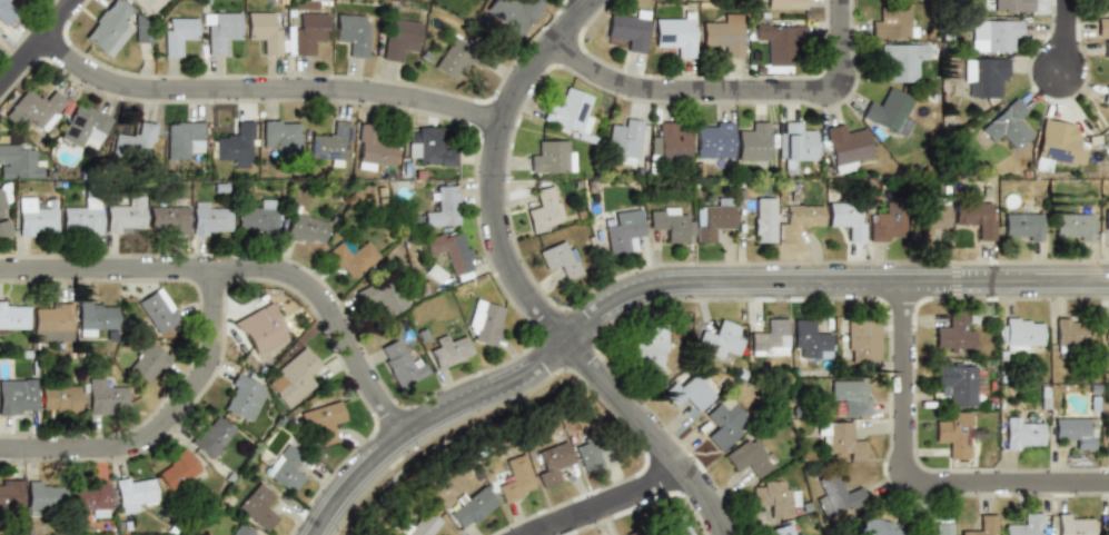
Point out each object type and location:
building: (882, 0)
building: (785, 4)
building: (148, 6)
building: (1011, 6)
building: (7, 11)
building: (512, 13)
building: (891, 23)
building: (1102, 23)
building: (109, 29)
building: (0, 31)
building: (628, 31)
building: (220, 32)
building: (310, 32)
building: (178, 33)
building: (264, 33)
building: (677, 34)
building: (725, 34)
building: (993, 34)
building: (353, 37)
building: (399, 39)
road: (1070, 39)
building: (779, 40)
road: (37, 42)
building: (1106, 51)
building: (452, 59)
building: (900, 60)
building: (982, 77)
road: (266, 92)
road: (739, 95)
building: (1106, 95)
building: (34, 109)
building: (889, 110)
building: (570, 112)
building: (83, 125)
building: (1006, 126)
building: (1108, 126)
building: (281, 135)
building: (180, 137)
building: (713, 138)
building: (624, 140)
building: (133, 141)
building: (754, 141)
building: (799, 141)
building: (672, 142)
building: (236, 145)
building: (1054, 145)
building: (329, 146)
building: (845, 146)
building: (428, 149)
building: (372, 150)
building: (551, 158)
building: (19, 161)
building: (444, 207)
building: (544, 209)
building: (37, 216)
building: (82, 217)
building: (126, 217)
building: (169, 217)
building: (976, 217)
building: (211, 218)
building: (846, 218)
building: (258, 219)
building: (713, 219)
building: (764, 219)
building: (928, 219)
building: (798, 220)
building: (1106, 220)
building: (2, 221)
building: (669, 222)
building: (885, 225)
building: (1021, 226)
building: (1071, 226)
building: (305, 229)
building: (623, 231)
building: (450, 249)
building: (350, 256)
building: (560, 259)
road: (241, 266)
road: (663, 280)
road: (521, 286)
building: (382, 296)
building: (158, 311)
building: (14, 316)
building: (96, 318)
building: (52, 321)
building: (484, 321)
building: (261, 328)
building: (1071, 331)
building: (1107, 331)
building: (1018, 333)
building: (952, 334)
building: (769, 337)
building: (808, 337)
building: (717, 339)
building: (859, 340)
building: (650, 348)
building: (448, 350)
building: (147, 363)
building: (398, 364)
building: (293, 377)
building: (958, 384)
building: (687, 393)
building: (106, 395)
building: (850, 395)
building: (18, 396)
building: (244, 397)
building: (59, 398)
building: (323, 419)
road: (166, 423)
building: (721, 424)
building: (1073, 430)
building: (1107, 430)
building: (1022, 433)
building: (953, 435)
building: (211, 436)
building: (841, 439)
building: (586, 454)
building: (747, 456)
building: (553, 464)
building: (285, 468)
building: (177, 469)
building: (514, 477)
road: (908, 477)
building: (135, 491)
building: (10, 494)
building: (44, 495)
building: (835, 495)
building: (89, 497)
building: (772, 497)
road: (601, 503)
building: (259, 506)
building: (472, 507)
building: (1107, 524)
building: (420, 525)
building: (674, 525)
building: (1073, 525)
building: (1024, 526)
building: (878, 527)
building: (941, 527)
building: (979, 527)
building: (241, 531)
building: (779, 531)

